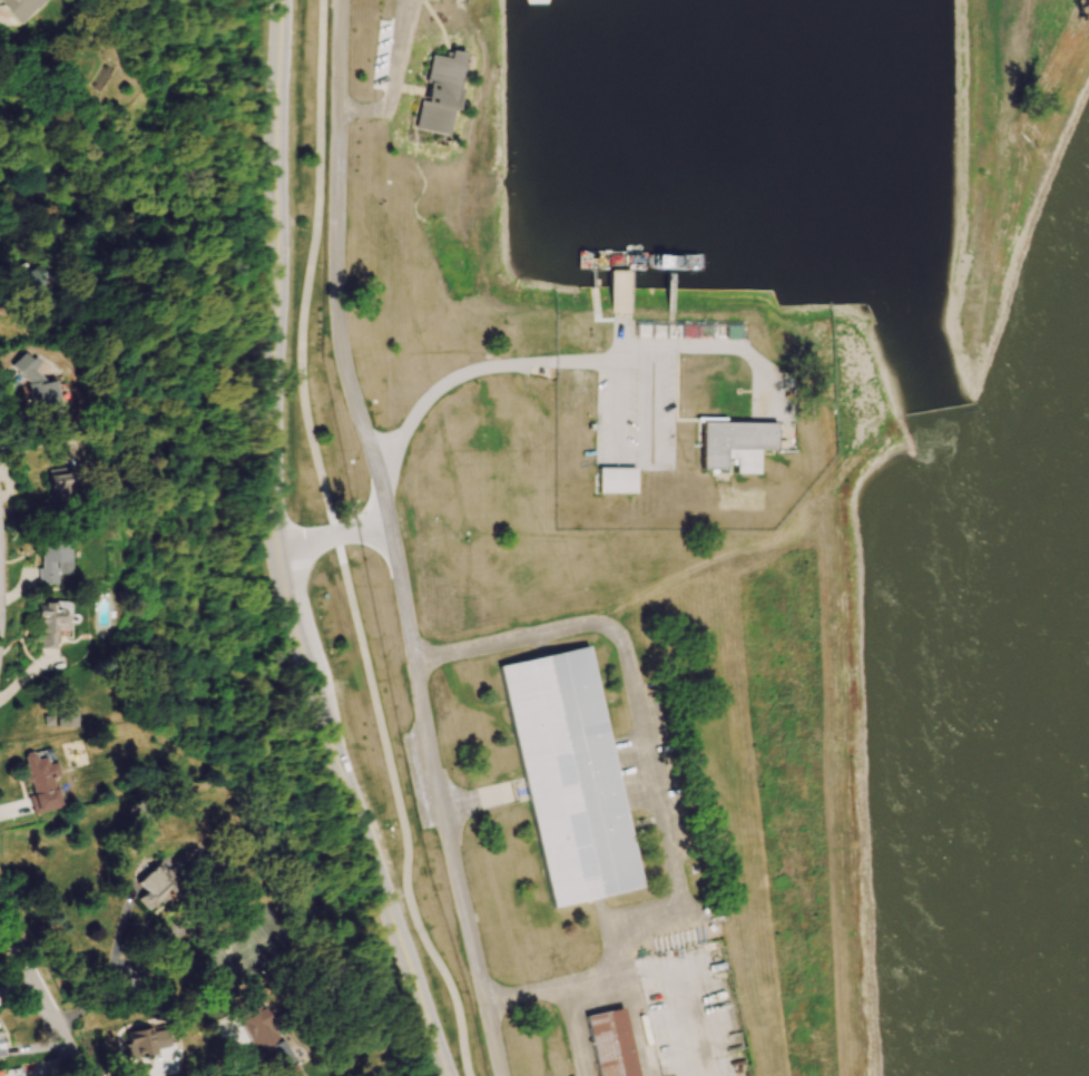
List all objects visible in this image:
building: (38, 9)
building: (795, 10)
building: (595, 14)
road: (438, 23)
road: (392, 78)
road: (1007, 80)
building: (436, 89)
pier: (618, 291)
pier: (668, 293)
road: (577, 361)
building: (51, 383)
road: (742, 388)
flagpole: (736, 389)
parking lot: (769, 390)
parking lot: (636, 409)
road: (712, 418)
road: (47, 440)
building: (735, 442)
road: (638, 450)
building: (615, 477)
building: (77, 481)
park: (737, 495)
road: (391, 539)
road: (283, 546)
road: (339, 546)
road: (705, 557)
road: (725, 681)
building: (570, 774)
road: (655, 779)
building: (40, 782)
road: (481, 793)
building: (156, 884)
road: (110, 970)
road: (555, 985)
road: (41, 994)
parking lot: (691, 1011)
building: (147, 1041)
building: (269, 1041)
building: (610, 1044)
building: (0, 1050)
road: (238, 1066)
road: (447, 1072)

